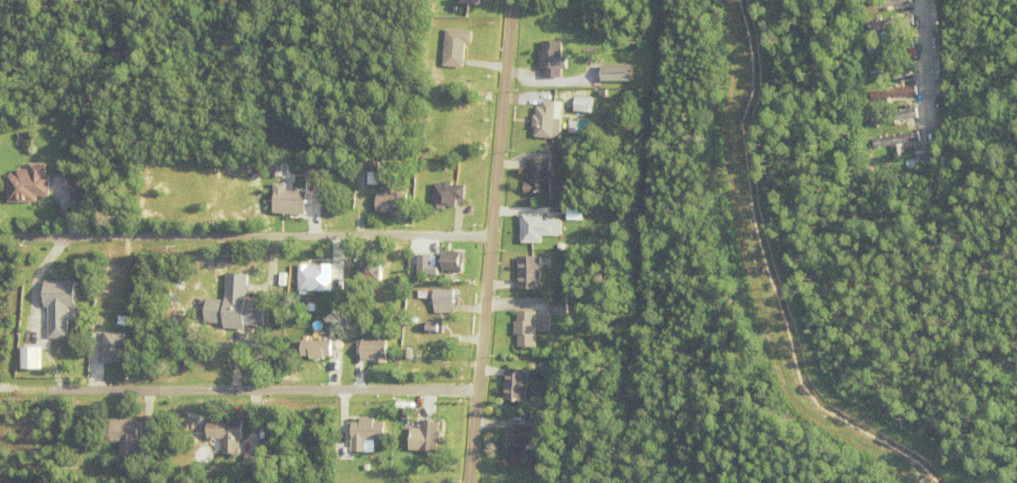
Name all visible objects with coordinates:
building: (469, 1)
building: (893, 4)
building: (881, 23)
building: (894, 26)
building: (483, 28)
building: (478, 44)
building: (488, 45)
building: (877, 47)
building: (456, 49)
building: (893, 49)
building: (552, 62)
road: (928, 70)
building: (878, 71)
building: (615, 72)
building: (893, 72)
building: (901, 91)
building: (879, 94)
building: (893, 95)
building: (583, 107)
building: (905, 114)
building: (893, 120)
building: (547, 124)
building: (893, 143)
building: (542, 156)
building: (315, 171)
building: (375, 176)
building: (538, 180)
building: (30, 187)
building: (321, 190)
building: (448, 198)
building: (287, 200)
building: (393, 206)
building: (573, 213)
building: (536, 231)
road: (249, 236)
road: (498, 241)
road: (642, 241)
building: (455, 264)
building: (425, 265)
building: (370, 270)
building: (239, 271)
building: (530, 276)
building: (373, 278)
building: (317, 281)
building: (284, 282)
building: (424, 293)
building: (442, 302)
building: (60, 309)
building: (237, 309)
building: (561, 309)
building: (340, 319)
building: (126, 323)
building: (544, 325)
building: (436, 330)
building: (526, 332)
building: (96, 351)
building: (114, 351)
building: (317, 353)
building: (376, 354)
building: (29, 357)
building: (516, 388)
road: (241, 391)
building: (405, 418)
building: (367, 437)
building: (125, 438)
building: (228, 438)
building: (427, 441)
building: (520, 446)
building: (253, 461)
building: (135, 472)
building: (150, 472)

